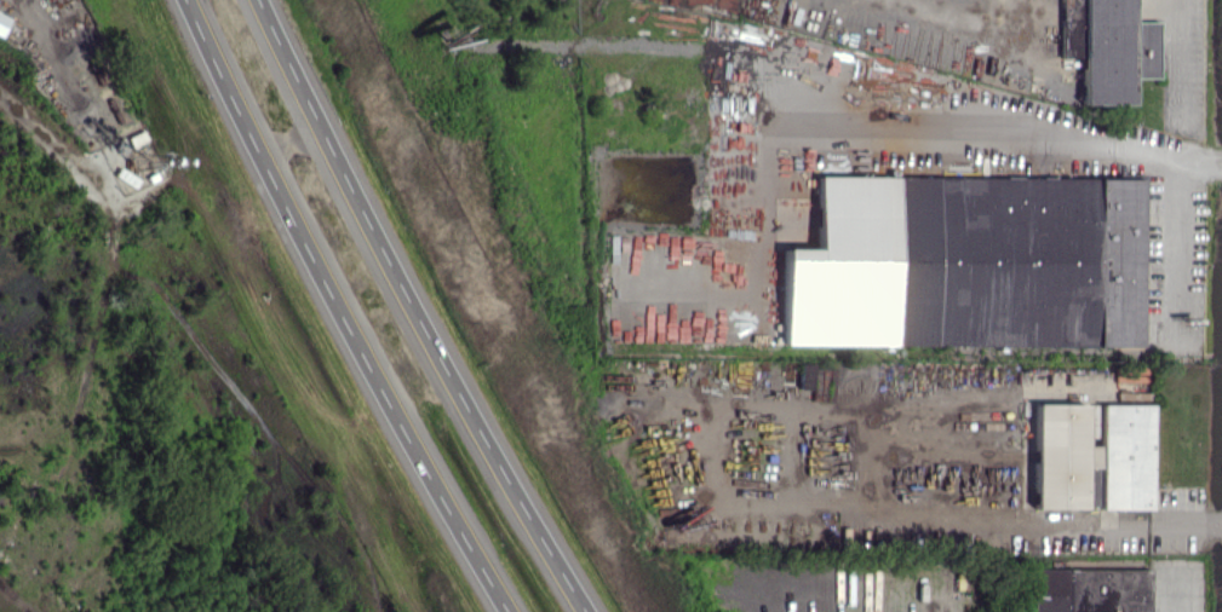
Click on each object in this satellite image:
building: (4, 23)
building: (1107, 47)
road: (1182, 57)
road: (39, 129)
road: (1009, 131)
building: (968, 262)
road: (338, 310)
road: (414, 310)
road: (719, 412)
building: (1091, 456)
road: (1046, 521)
building: (1090, 590)
road: (1172, 594)

